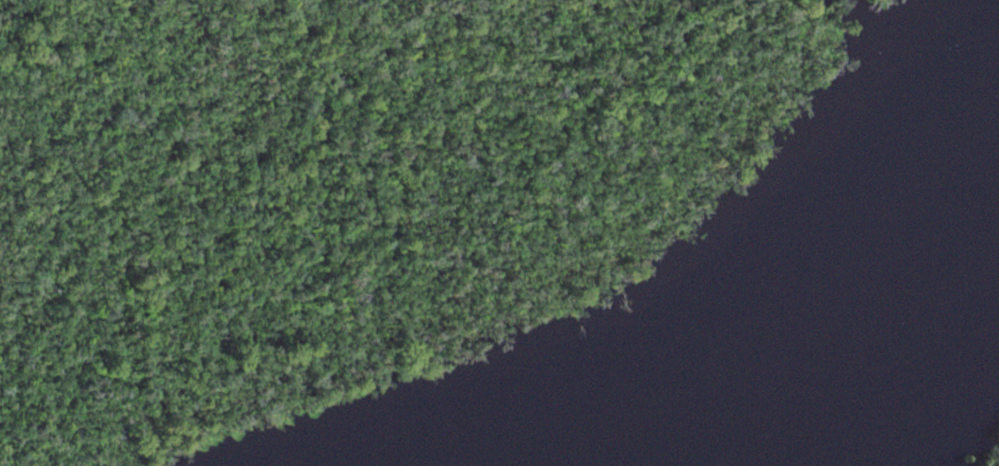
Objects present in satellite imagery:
river: (850, 325)

